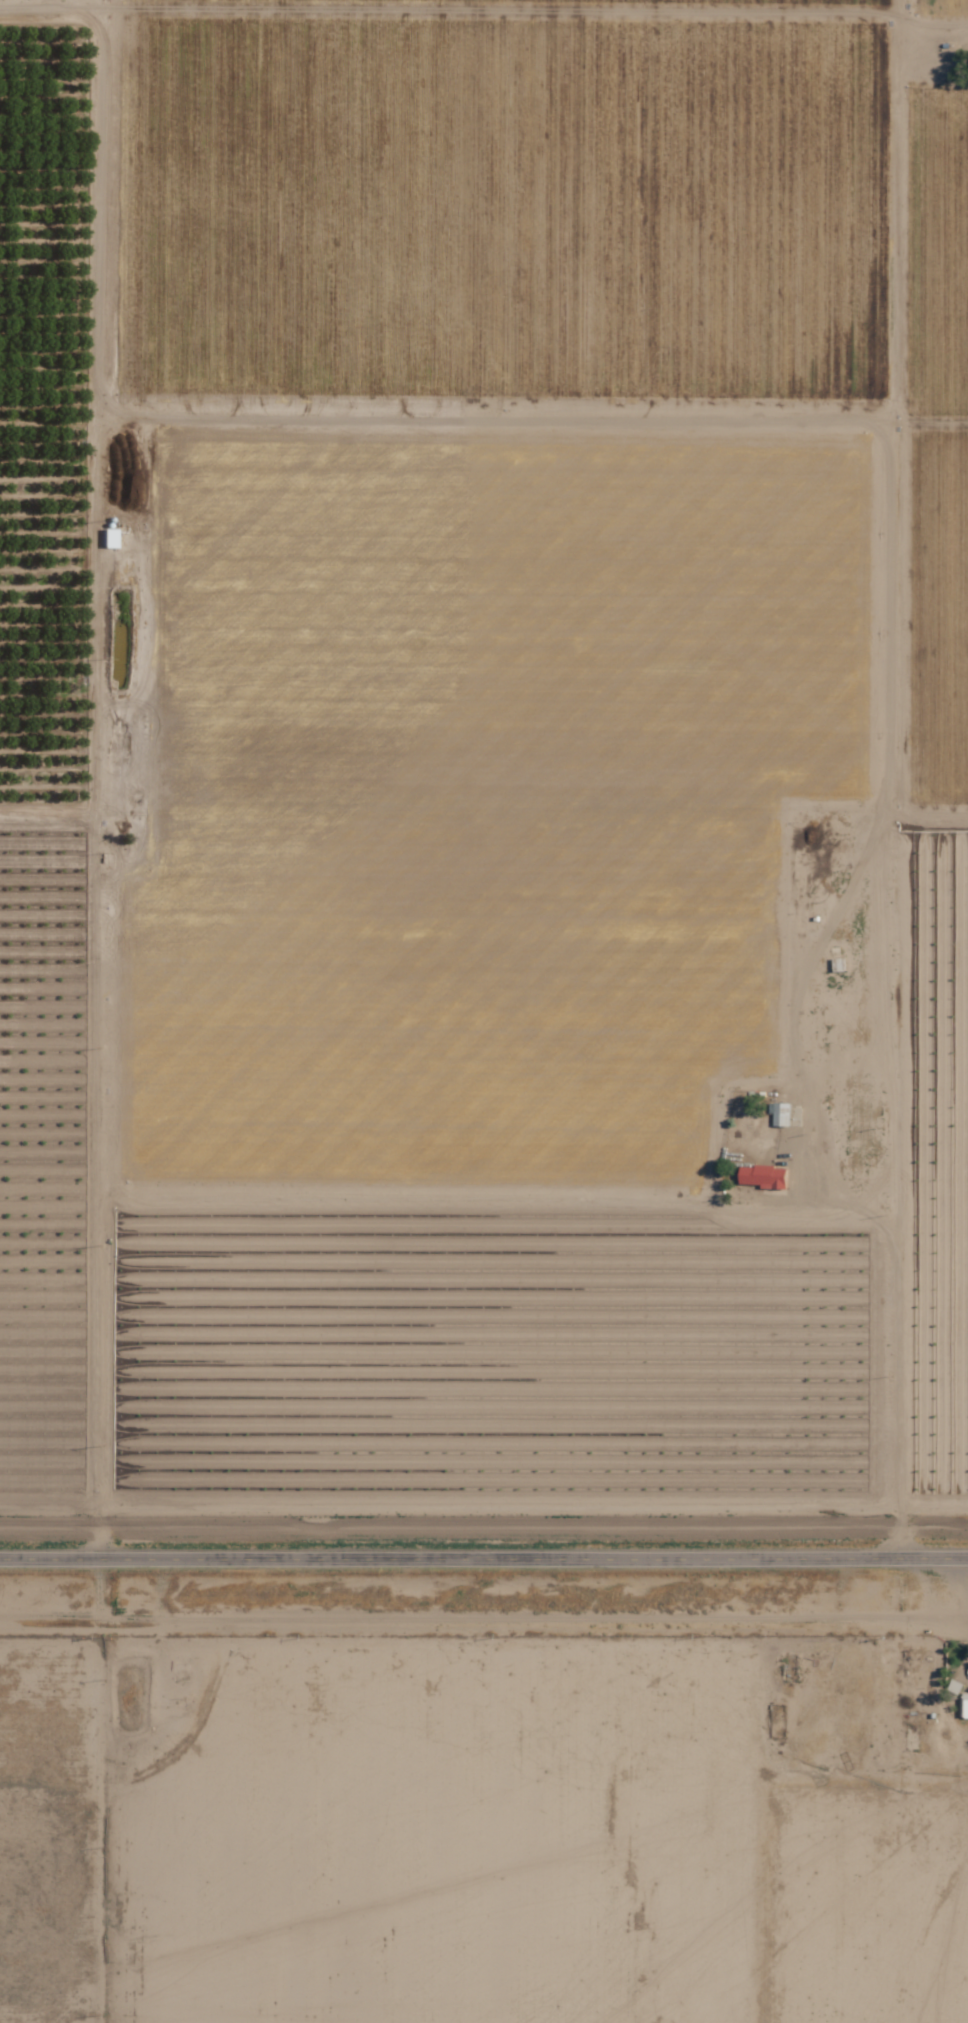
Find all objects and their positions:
crop: (717, 0)
crop: (937, 7)
road: (506, 10)
road: (933, 25)
road: (897, 204)
crop: (504, 207)
crop: (937, 251)
road: (344, 403)
road: (95, 409)
road: (718, 419)
crop: (502, 608)
crop: (937, 616)
road: (902, 646)
road: (576, 801)
crop: (446, 995)
crop: (43, 1160)
crop: (937, 1174)
building: (761, 1176)
road: (453, 1194)
road: (96, 1196)
road: (894, 1278)
crop: (498, 1359)
road: (484, 1560)
building: (964, 1705)

